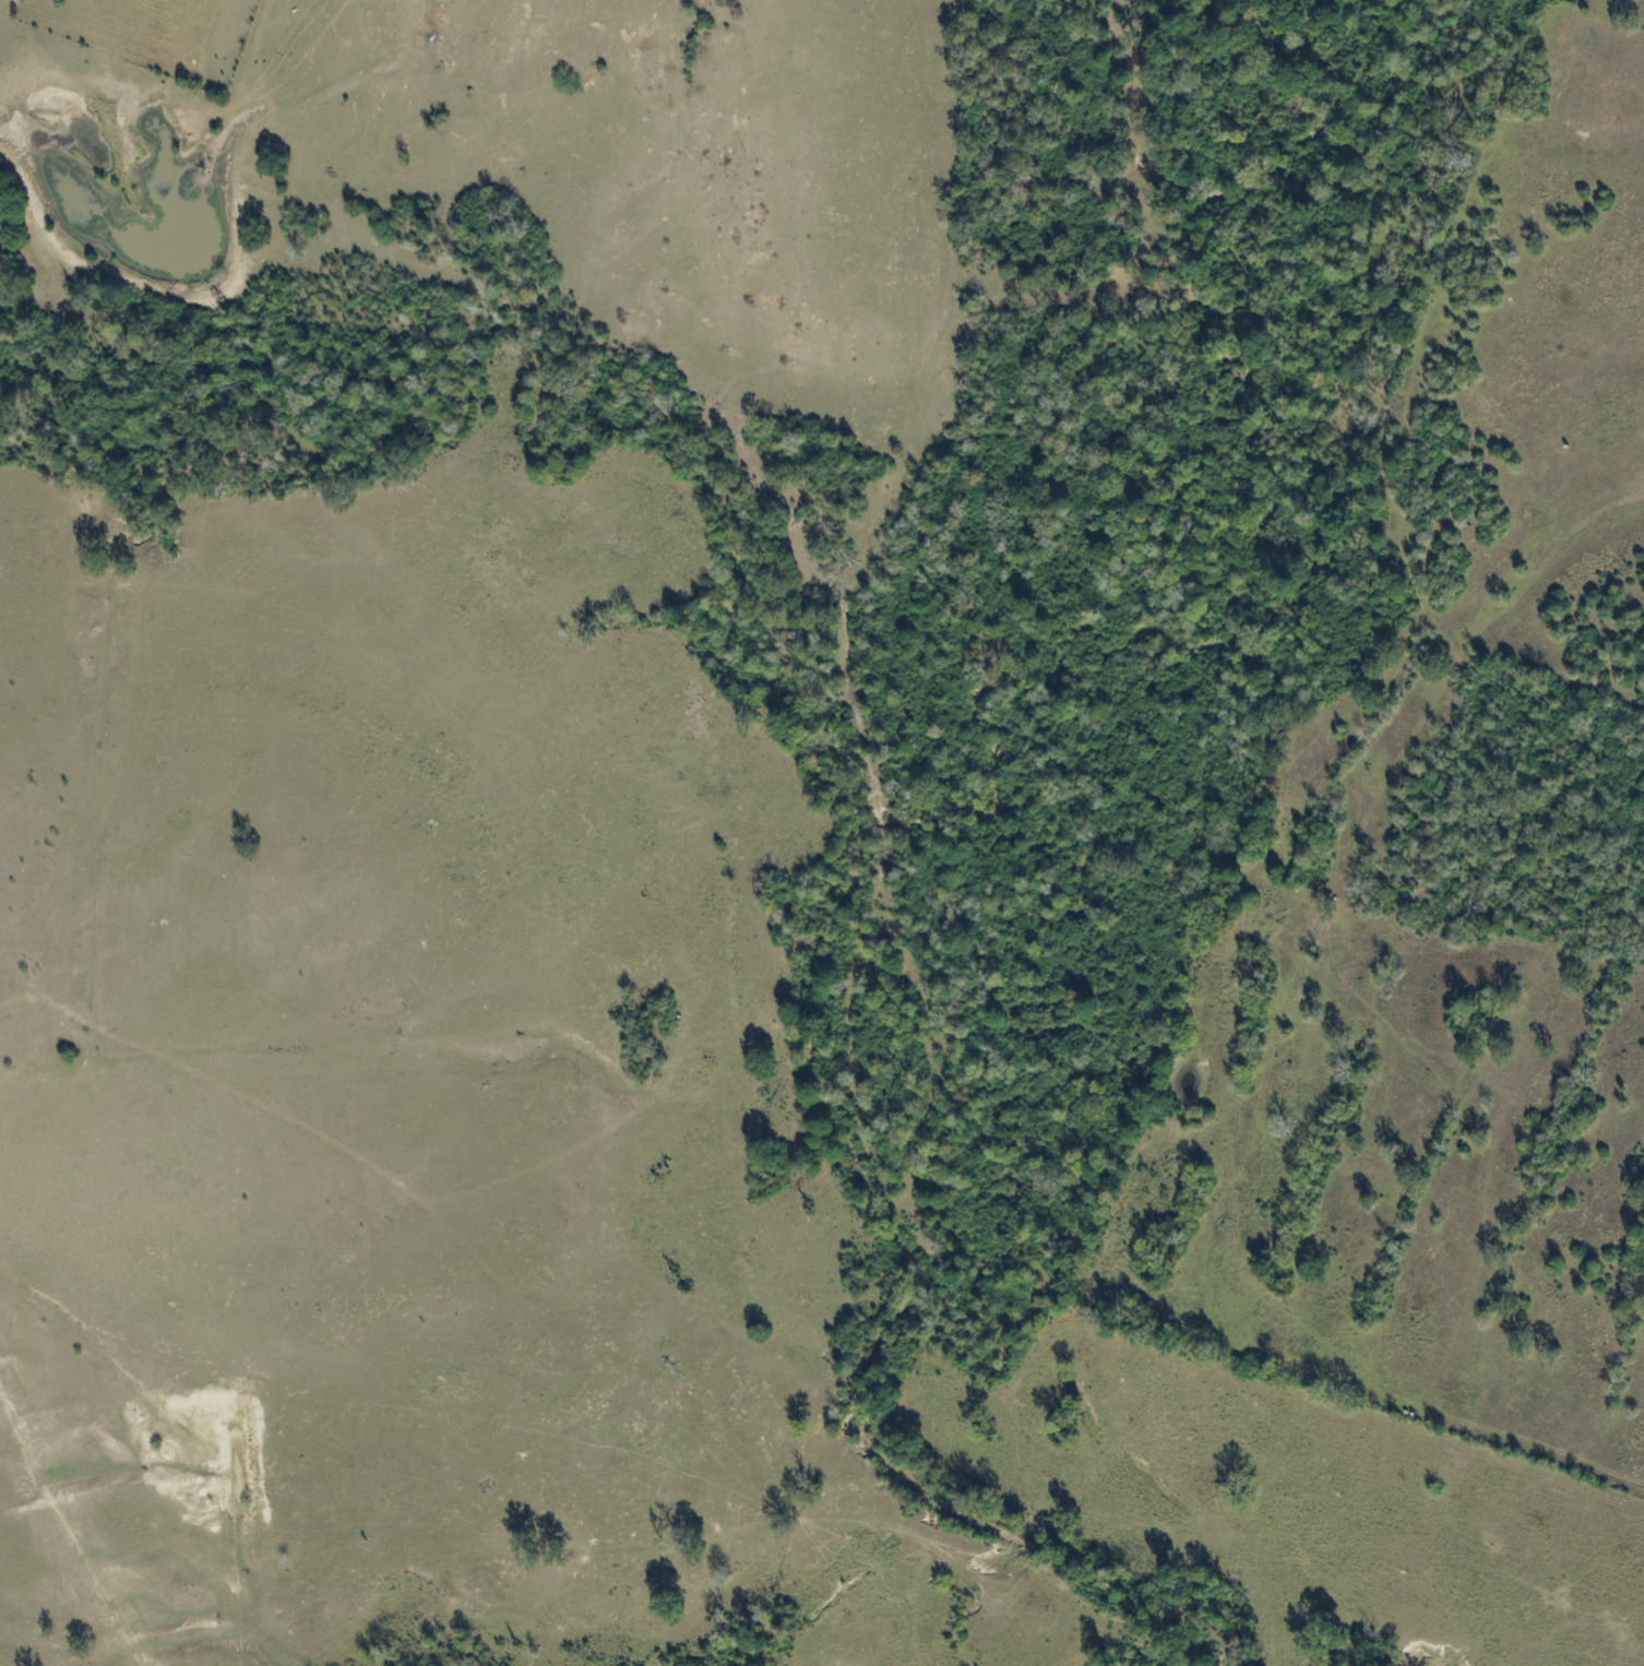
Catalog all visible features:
road: (515, 1297)

